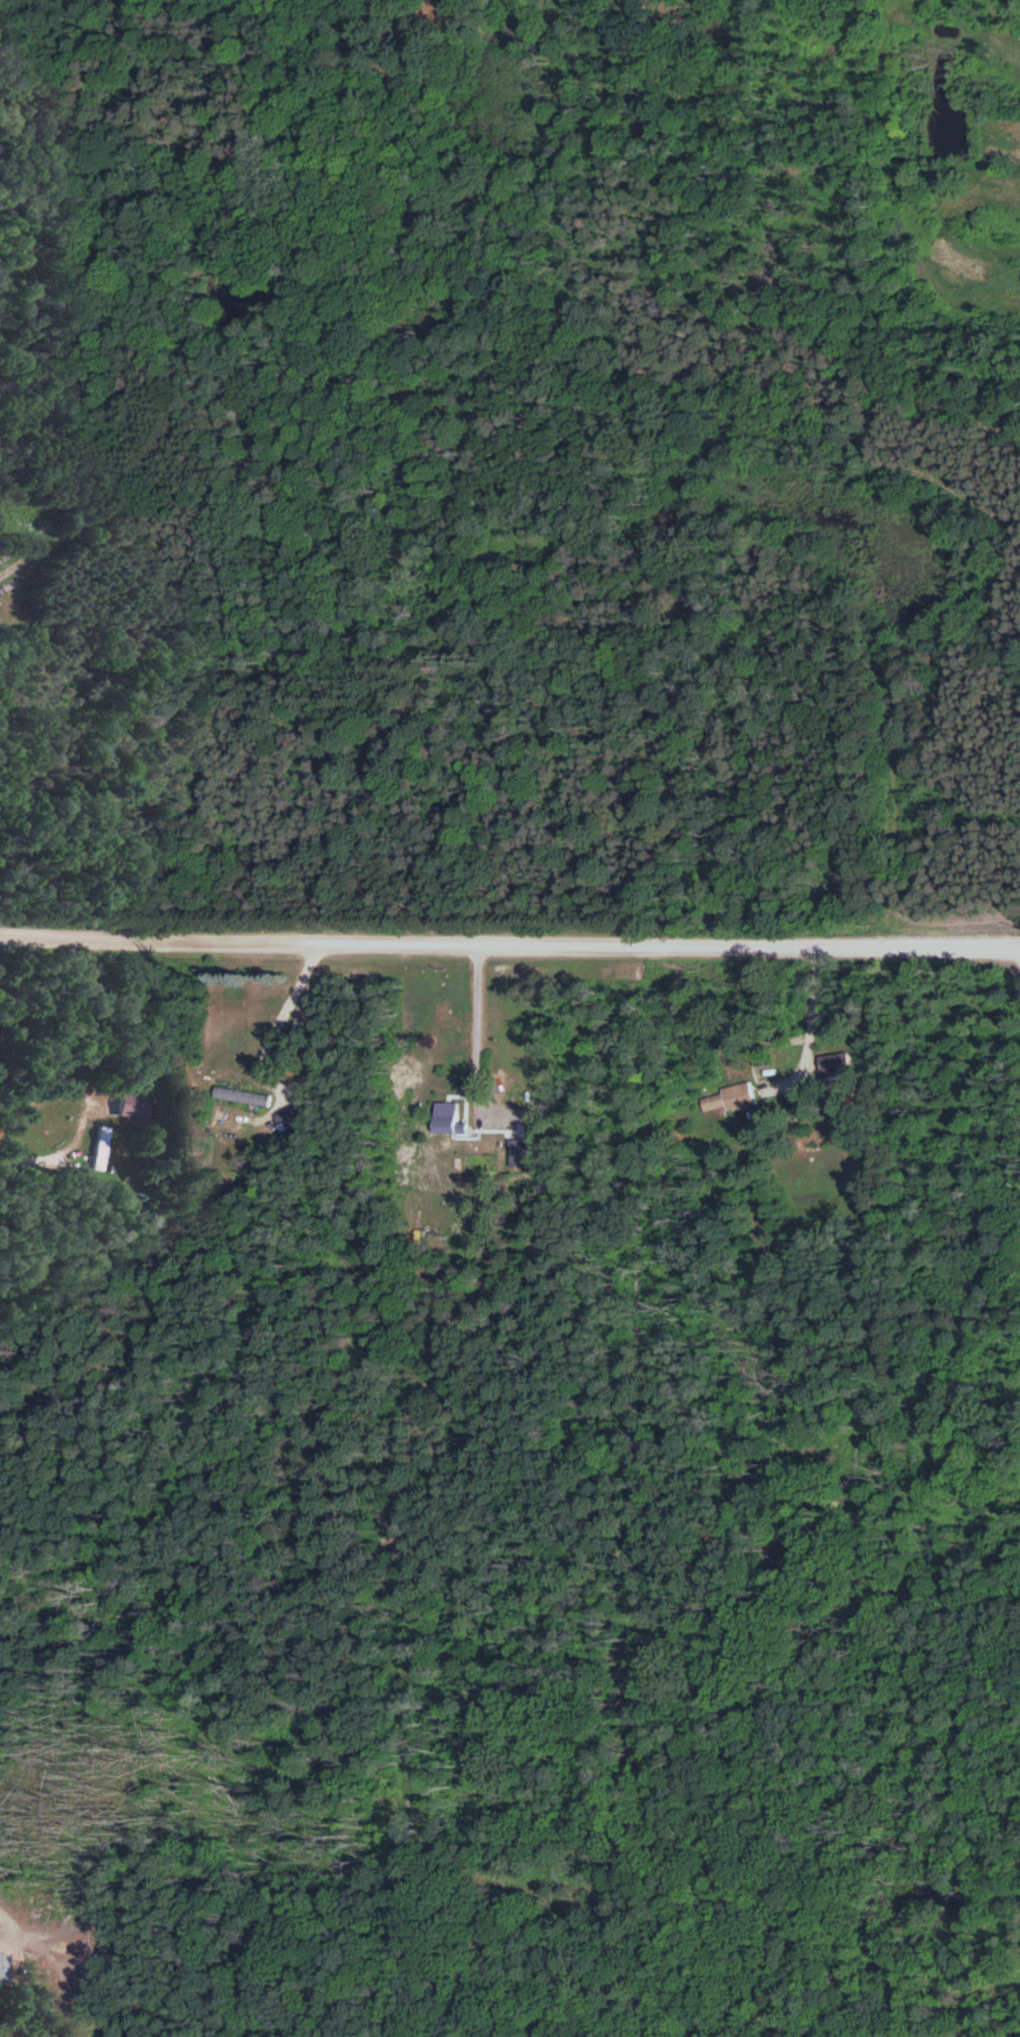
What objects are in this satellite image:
road: (160, 8)
park: (959, 171)
road: (185, 306)
road: (509, 943)
road: (283, 1016)
road: (472, 1020)
building: (300, 1025)
building: (832, 1062)
building: (243, 1094)
building: (730, 1096)
building: (130, 1104)
building: (292, 1117)
building: (447, 1118)
building: (521, 1152)

